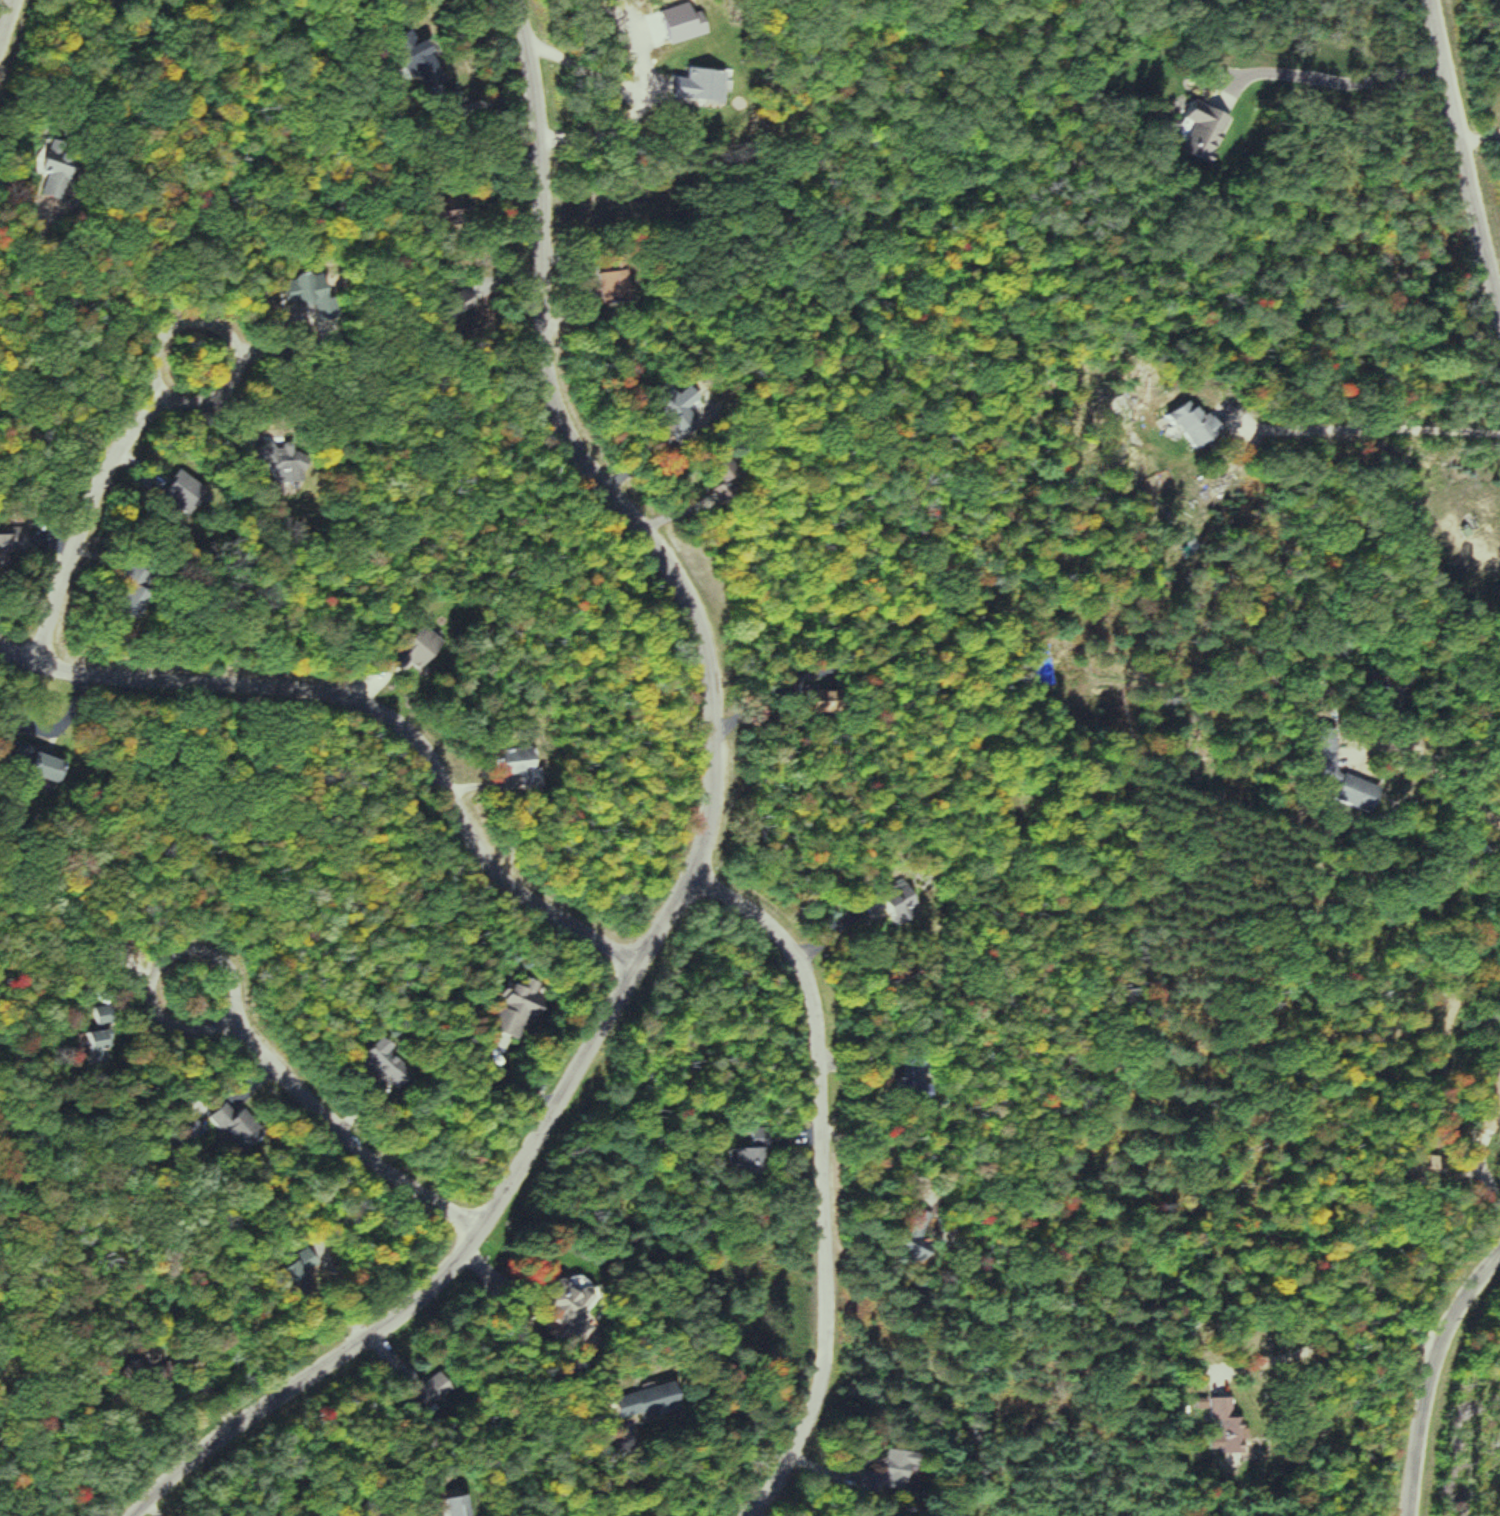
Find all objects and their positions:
road: (8, 36)
building: (432, 66)
building: (703, 85)
road: (552, 89)
building: (1194, 132)
road: (1465, 158)
building: (620, 287)
building: (304, 292)
road: (150, 404)
building: (1185, 426)
building: (283, 464)
petroleum well: (1469, 528)
building: (20, 539)
building: (402, 647)
road: (375, 706)
building: (1312, 753)
building: (512, 762)
building: (882, 904)
road: (663, 923)
road: (161, 964)
building: (502, 1009)
building: (373, 1060)
building: (1486, 1098)
building: (229, 1125)
building: (751, 1133)
building: (186, 1134)
road: (347, 1139)
building: (1412, 1166)
road: (818, 1179)
building: (899, 1233)
building: (286, 1273)
building: (553, 1309)
road: (1430, 1373)
building: (125, 1374)
building: (414, 1389)
building: (634, 1402)
building: (1215, 1422)
building: (875, 1475)
building: (436, 1507)

